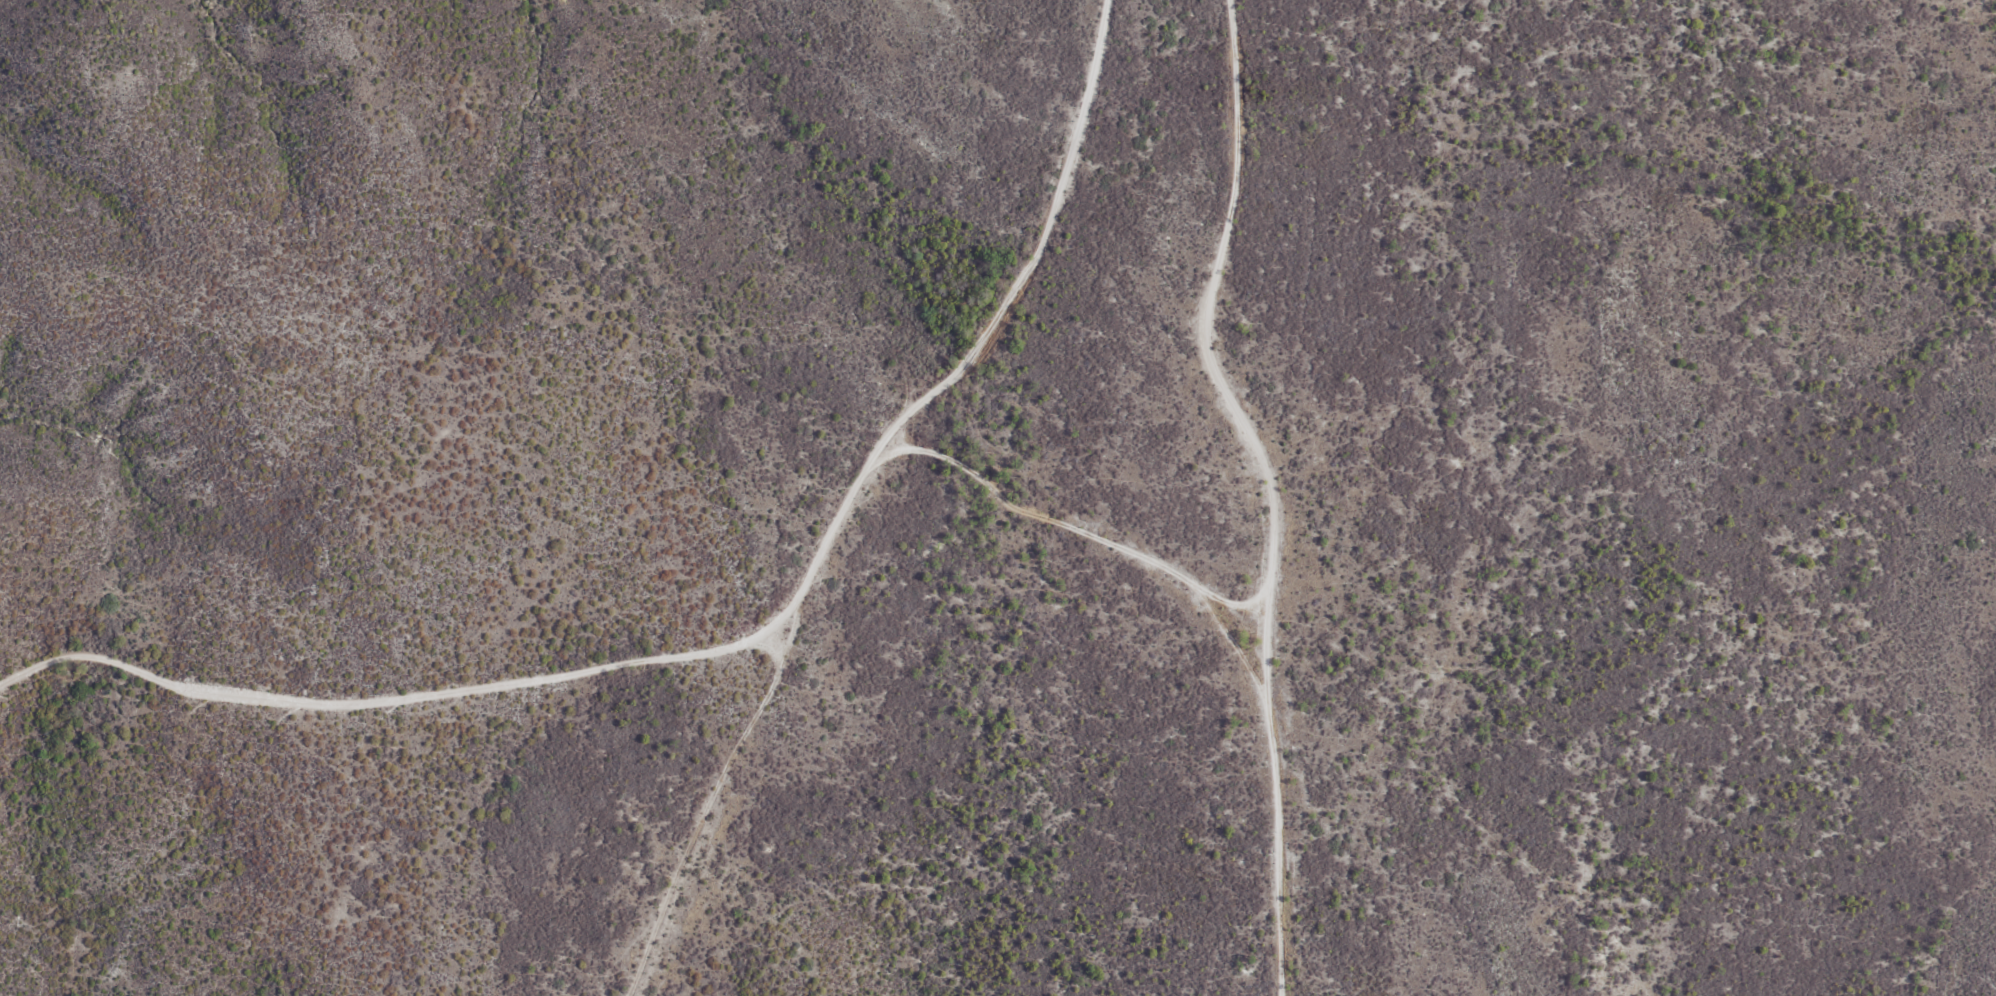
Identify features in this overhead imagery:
road: (1278, 488)
road: (1091, 532)
road: (796, 640)
road: (745, 641)
road: (714, 804)

